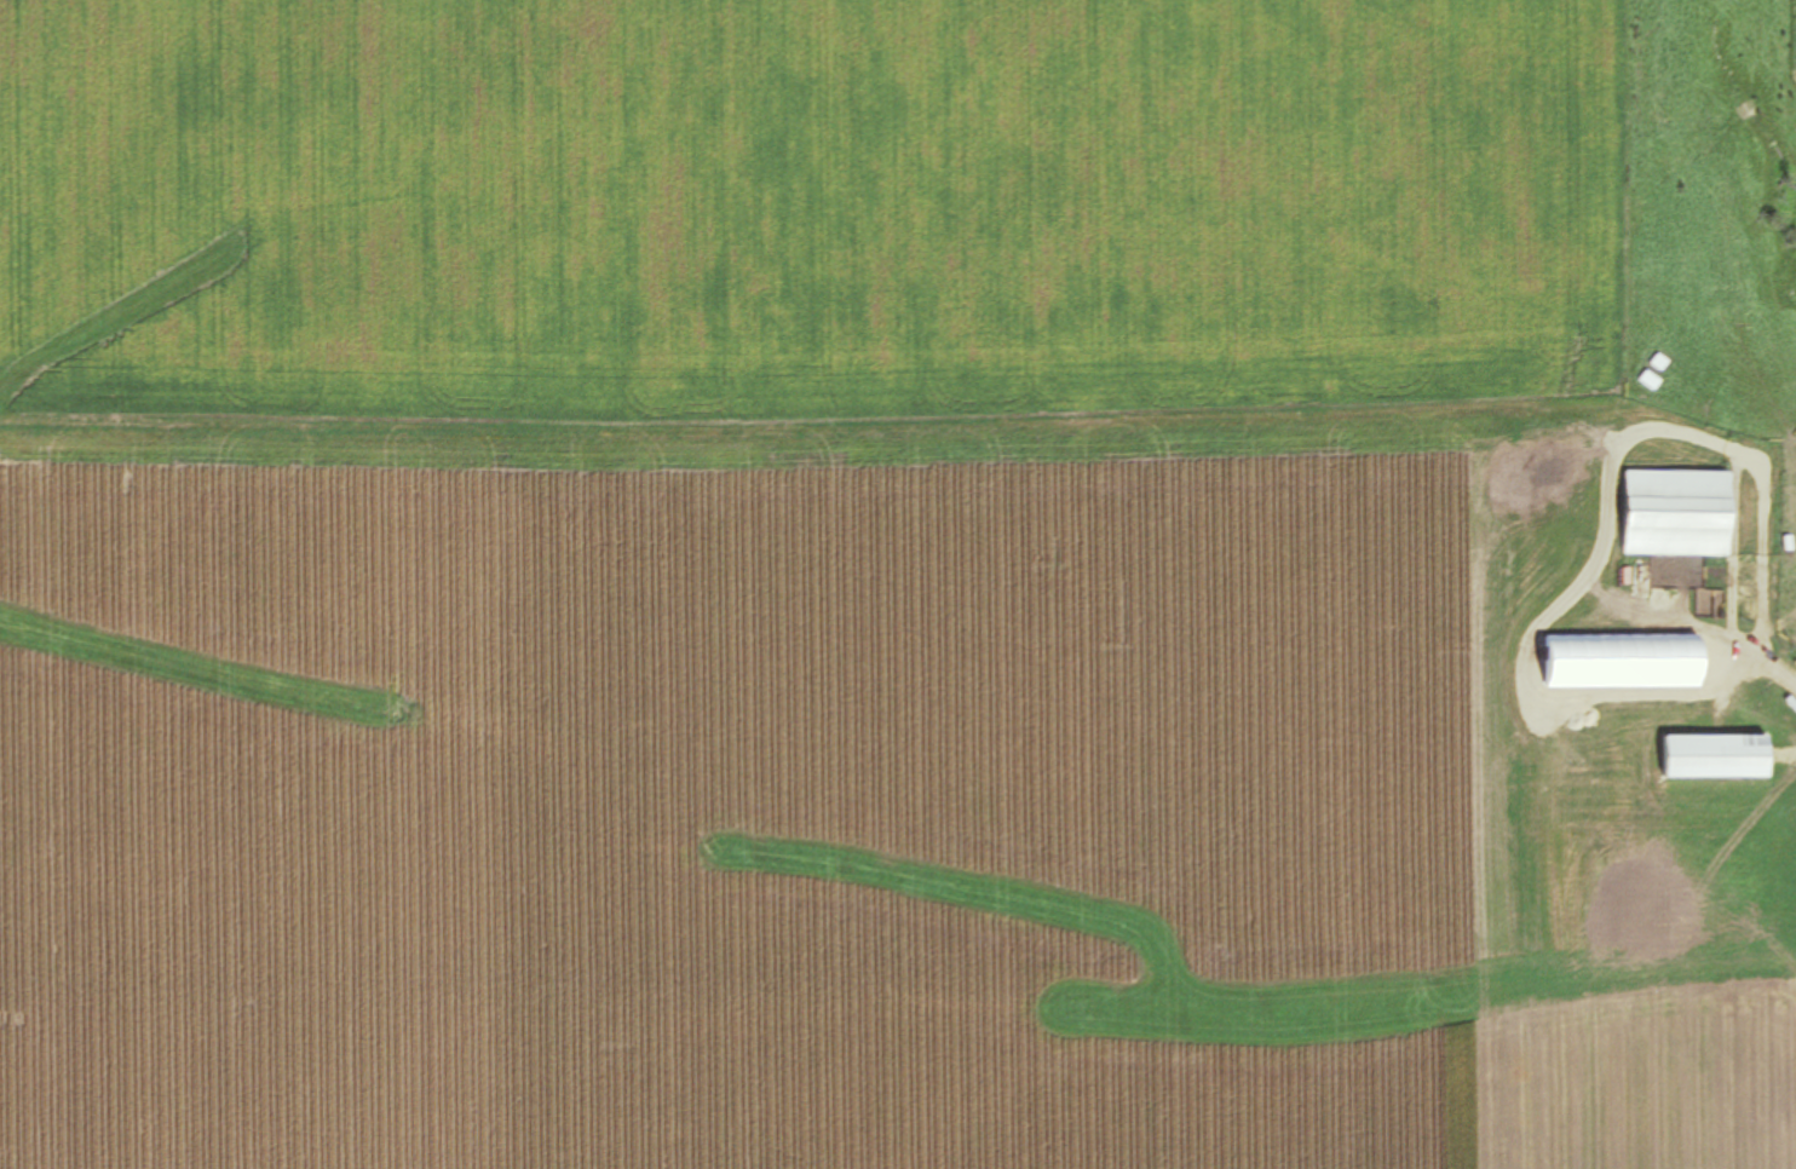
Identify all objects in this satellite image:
building: (1679, 512)
building: (1682, 687)
building: (1719, 756)

